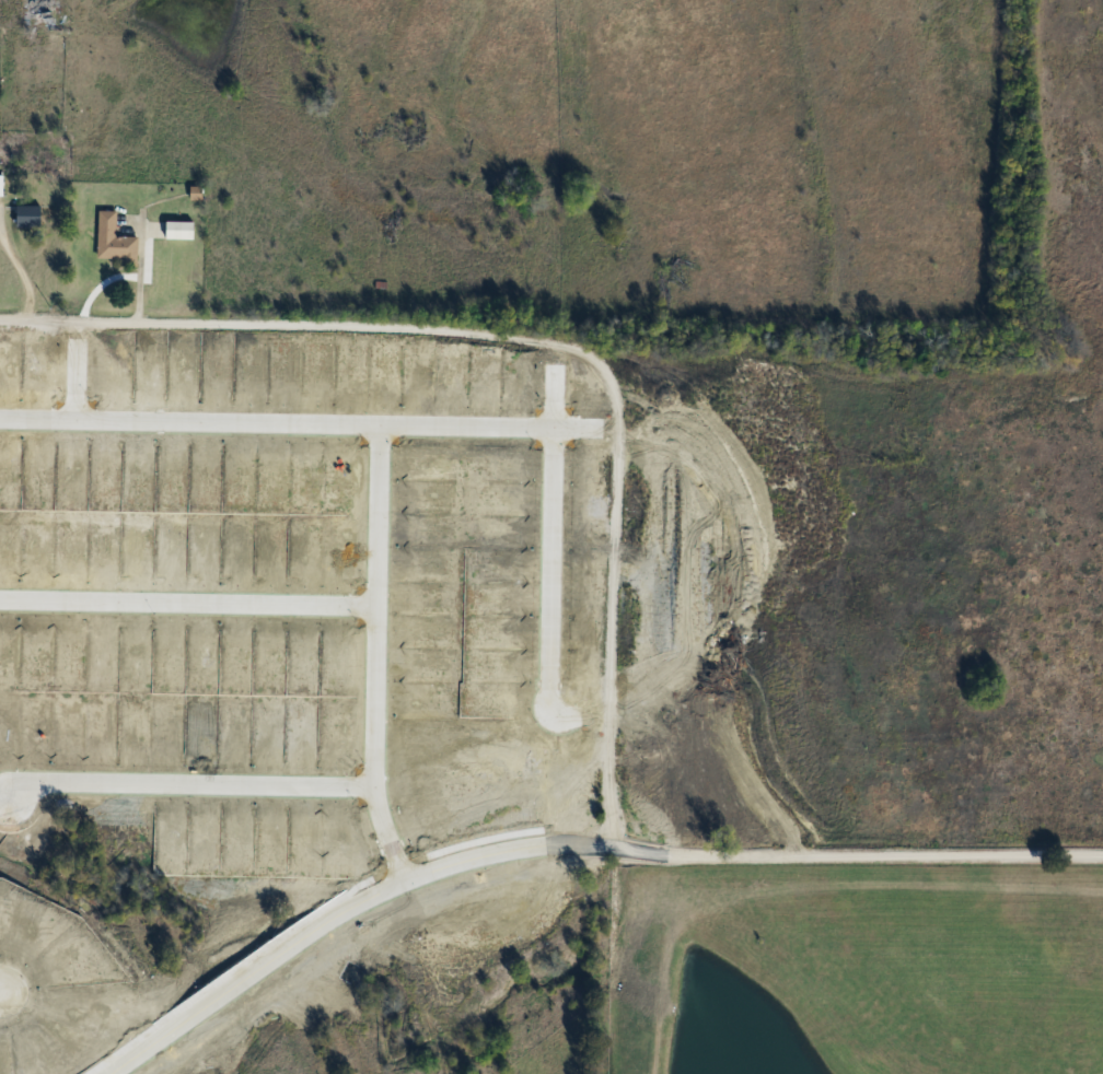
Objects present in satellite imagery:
building: (42, 9)
building: (1, 186)
building: (28, 217)
building: (115, 241)
road: (72, 378)
road: (316, 424)
road: (550, 529)
road: (187, 602)
road: (373, 672)
road: (677, 725)
road: (186, 786)
road: (889, 855)
road: (371, 897)
road: (399, 917)

